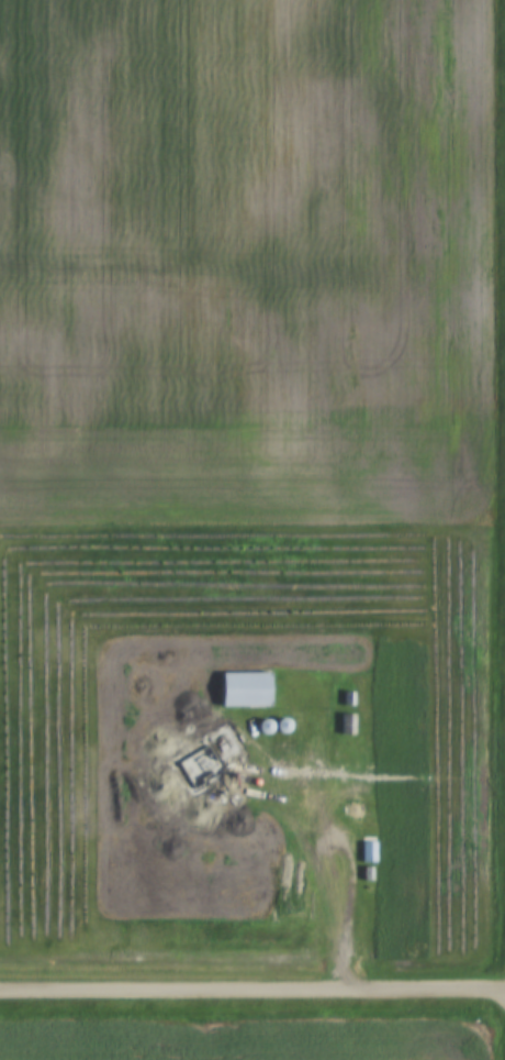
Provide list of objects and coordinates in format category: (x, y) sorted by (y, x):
road: (349, 905)
road: (251, 993)

